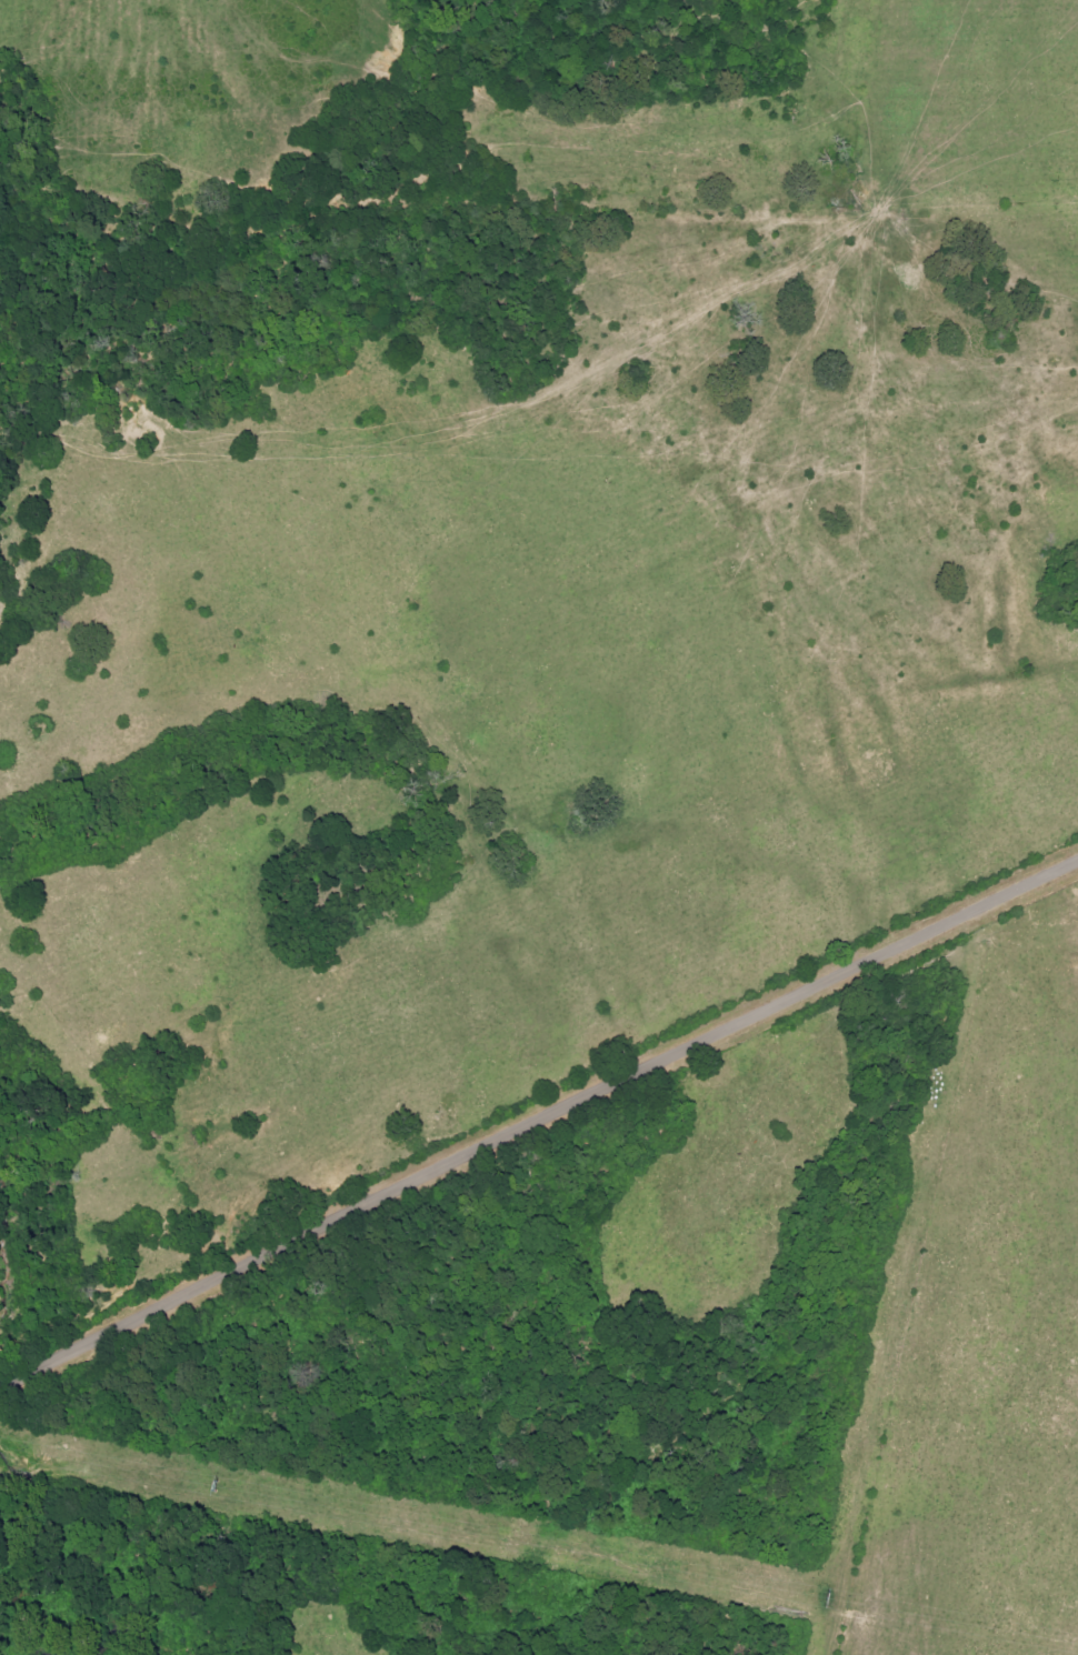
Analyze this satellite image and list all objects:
road: (535, 1137)
power tower: (211, 1485)
power tower: (811, 1592)

